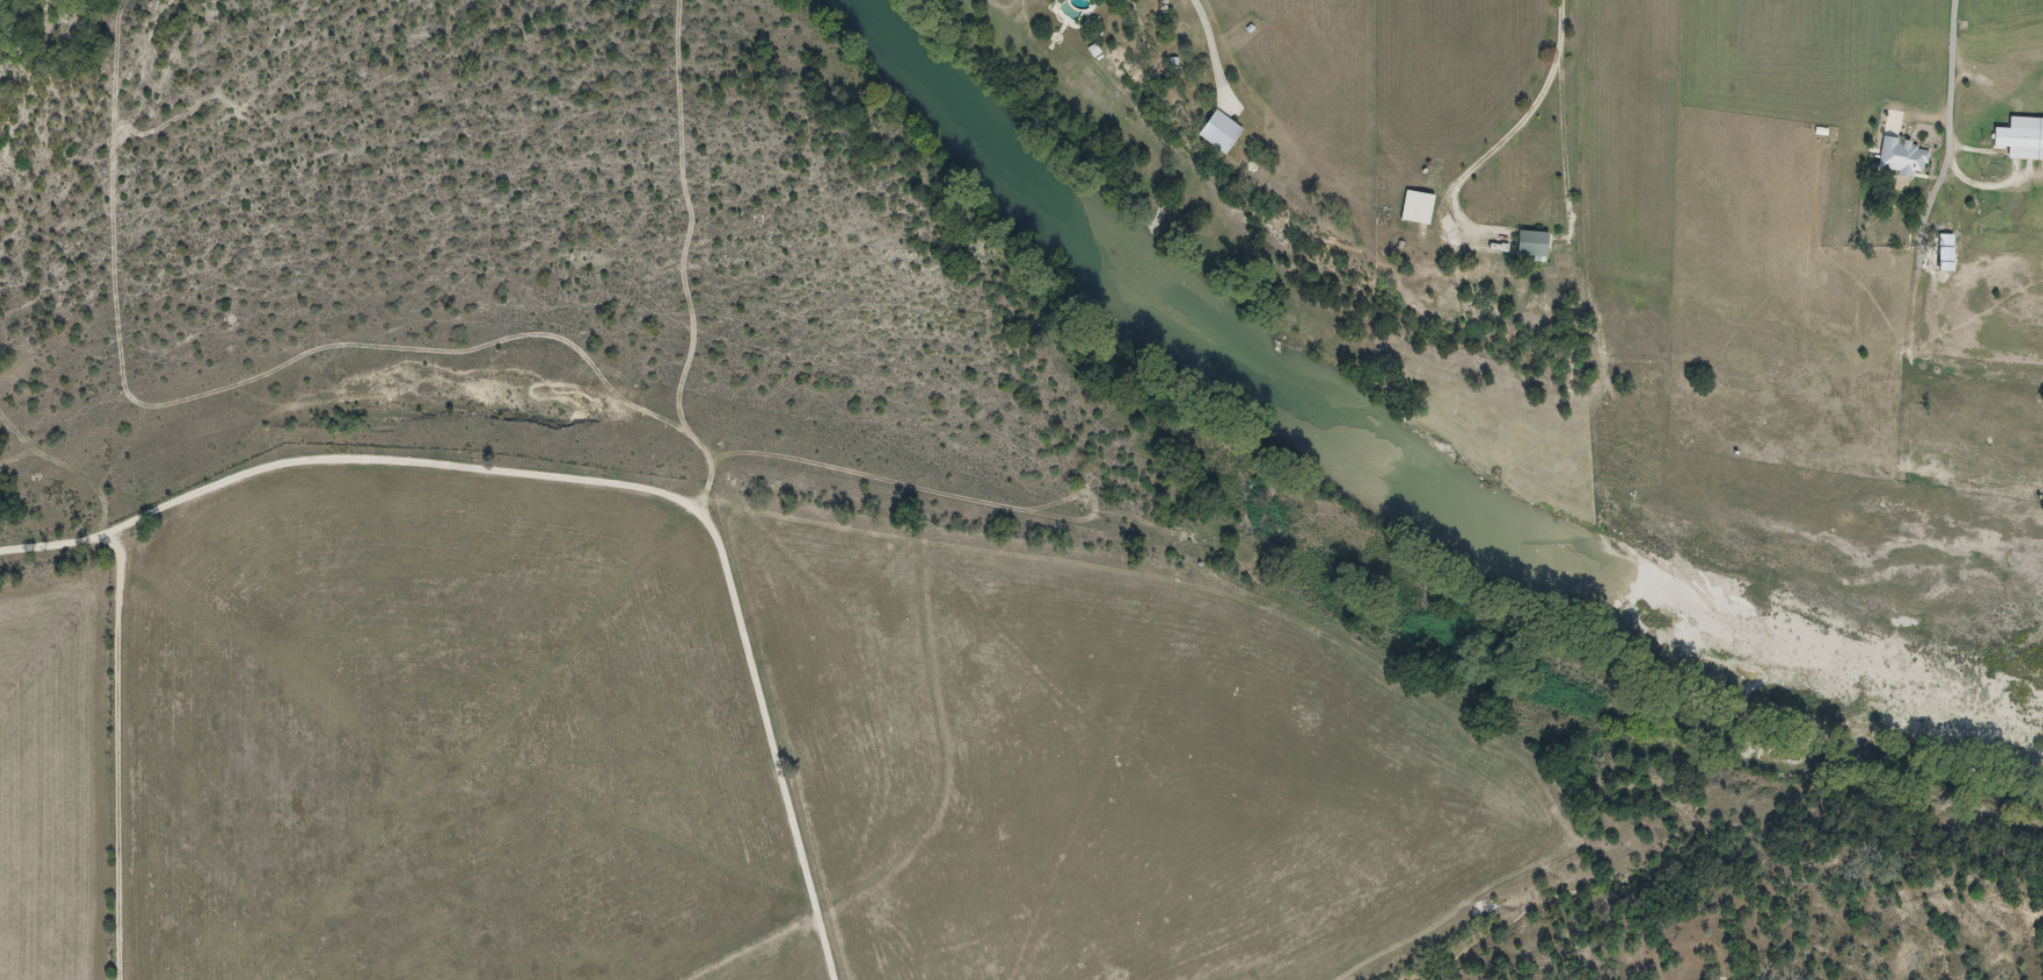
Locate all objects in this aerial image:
river: (2, 1)
road: (1949, 128)
building: (1223, 131)
building: (1999, 161)
building: (1535, 243)
building: (1946, 252)
building: (1945, 289)
river: (1389, 439)
road: (588, 480)

